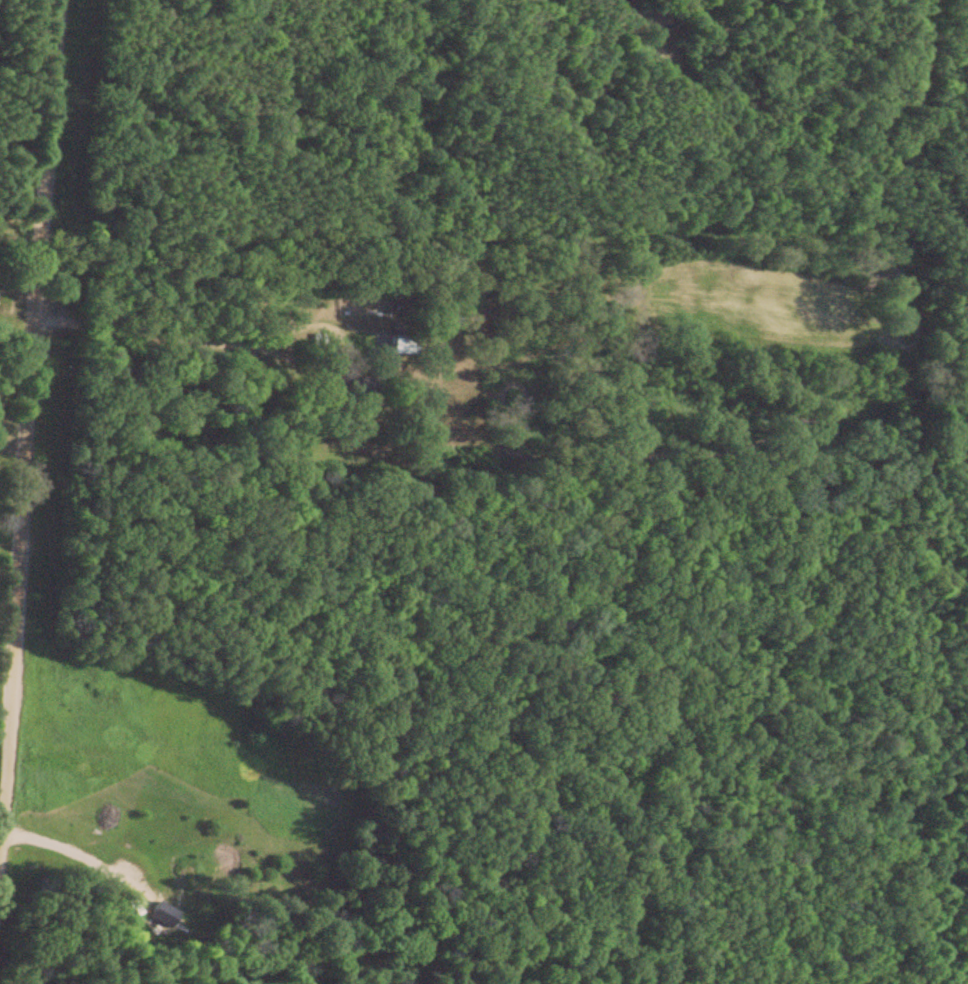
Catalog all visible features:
road: (178, 335)
road: (31, 406)
road: (77, 852)

